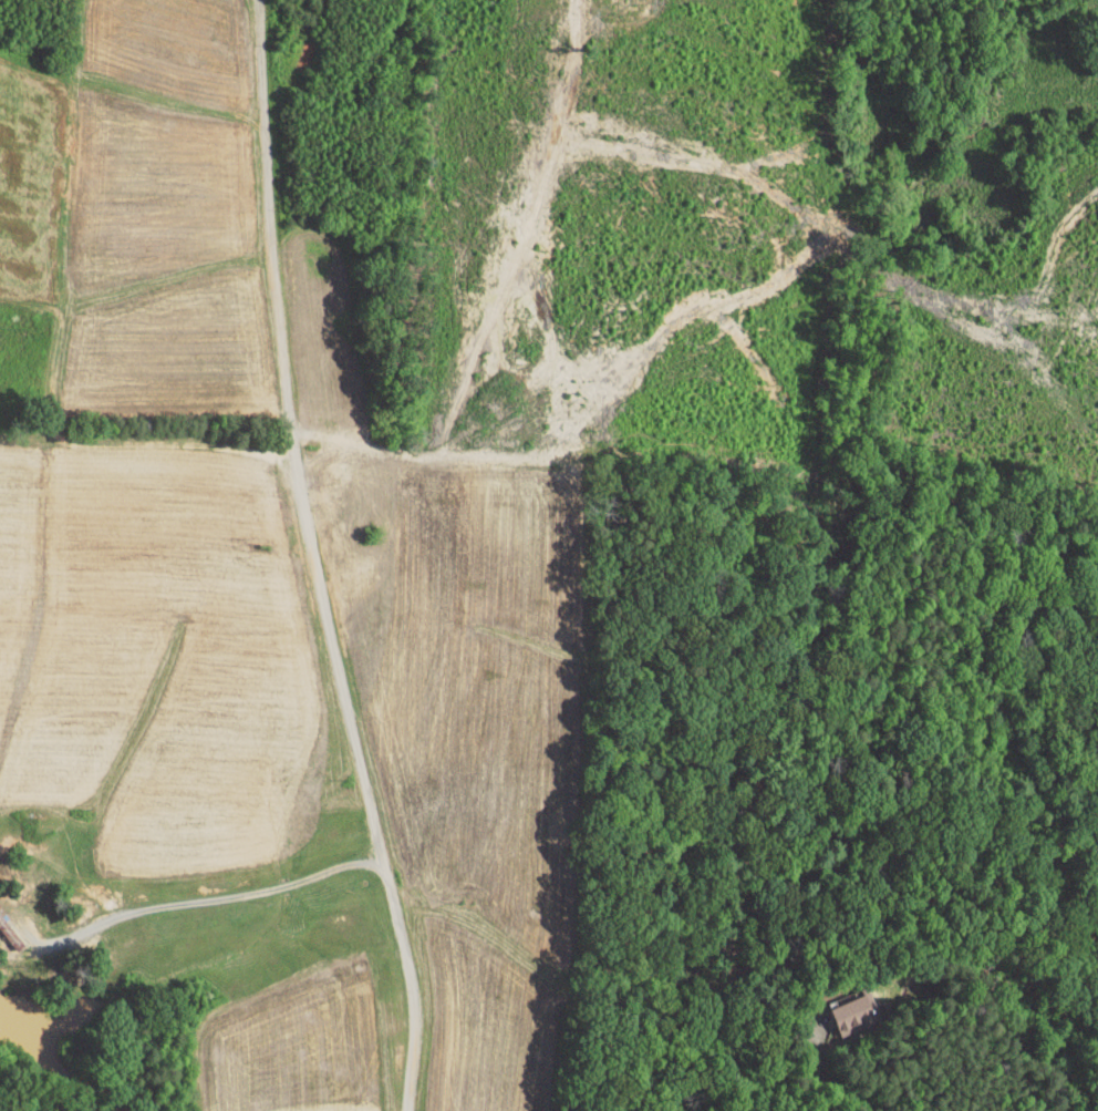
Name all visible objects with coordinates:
road: (313, 559)
road: (214, 899)
building: (841, 1006)
road: (851, 1089)

